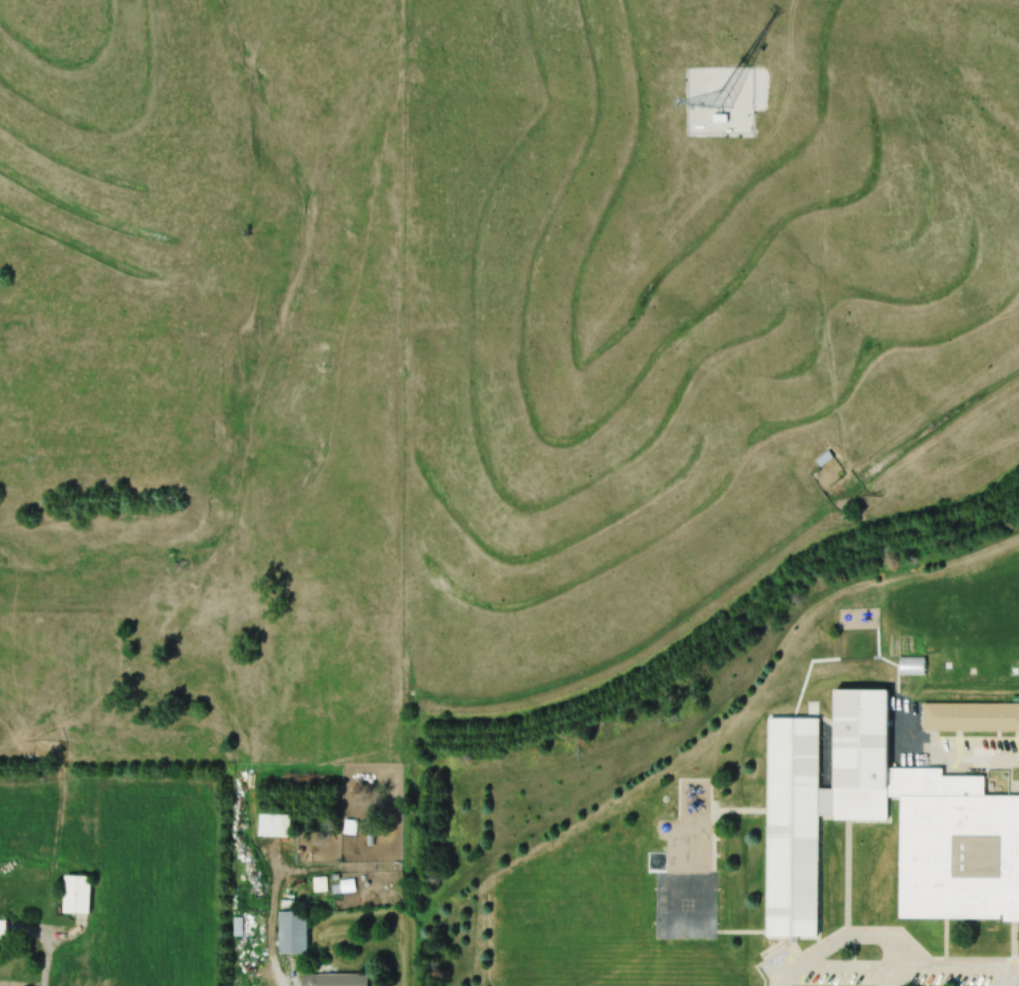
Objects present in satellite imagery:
building: (969, 716)
building: (827, 808)
building: (74, 895)
building: (1, 931)
building: (290, 932)
road: (893, 937)
road: (51, 955)
road: (890, 960)
road: (287, 973)
building: (331, 980)

